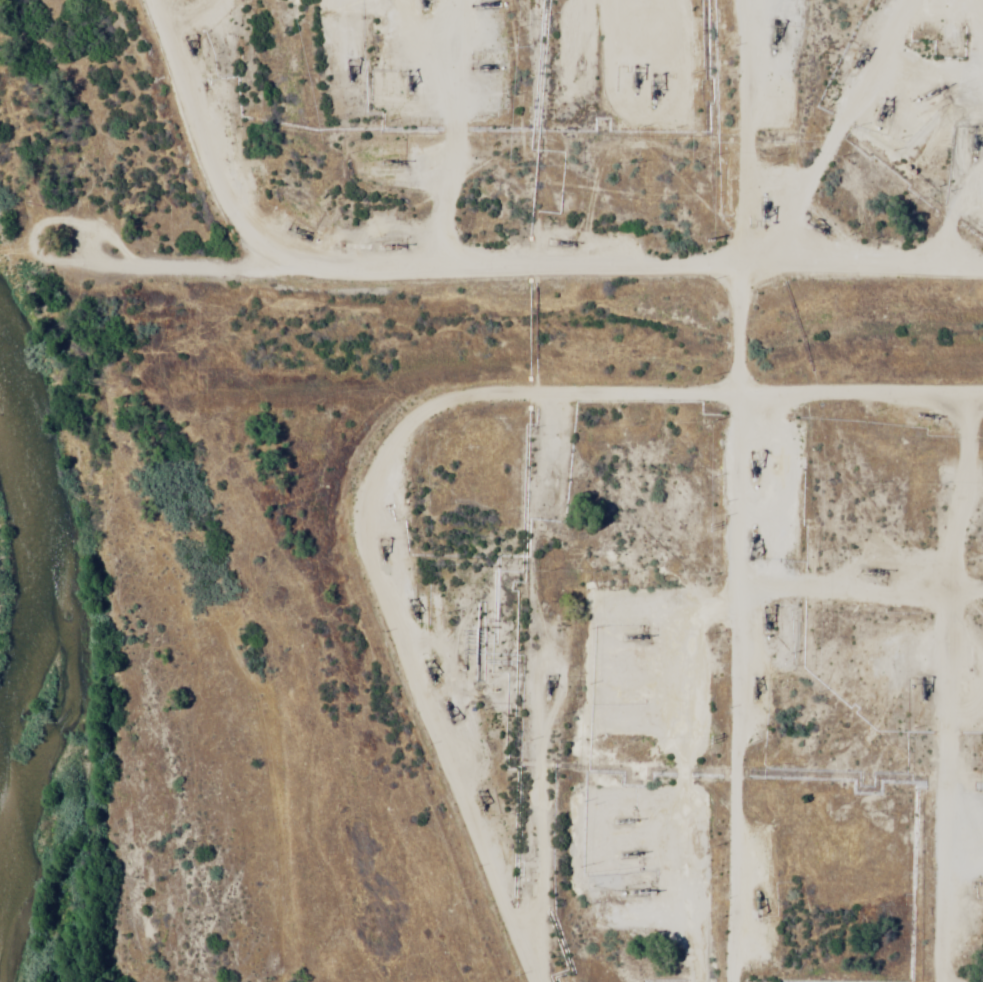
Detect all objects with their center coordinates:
road: (241, 135)
road: (498, 139)
road: (894, 142)
road: (754, 200)
road: (655, 289)
road: (695, 443)
road: (391, 445)
road: (536, 669)
road: (899, 696)
river: (47, 711)
road: (704, 794)

